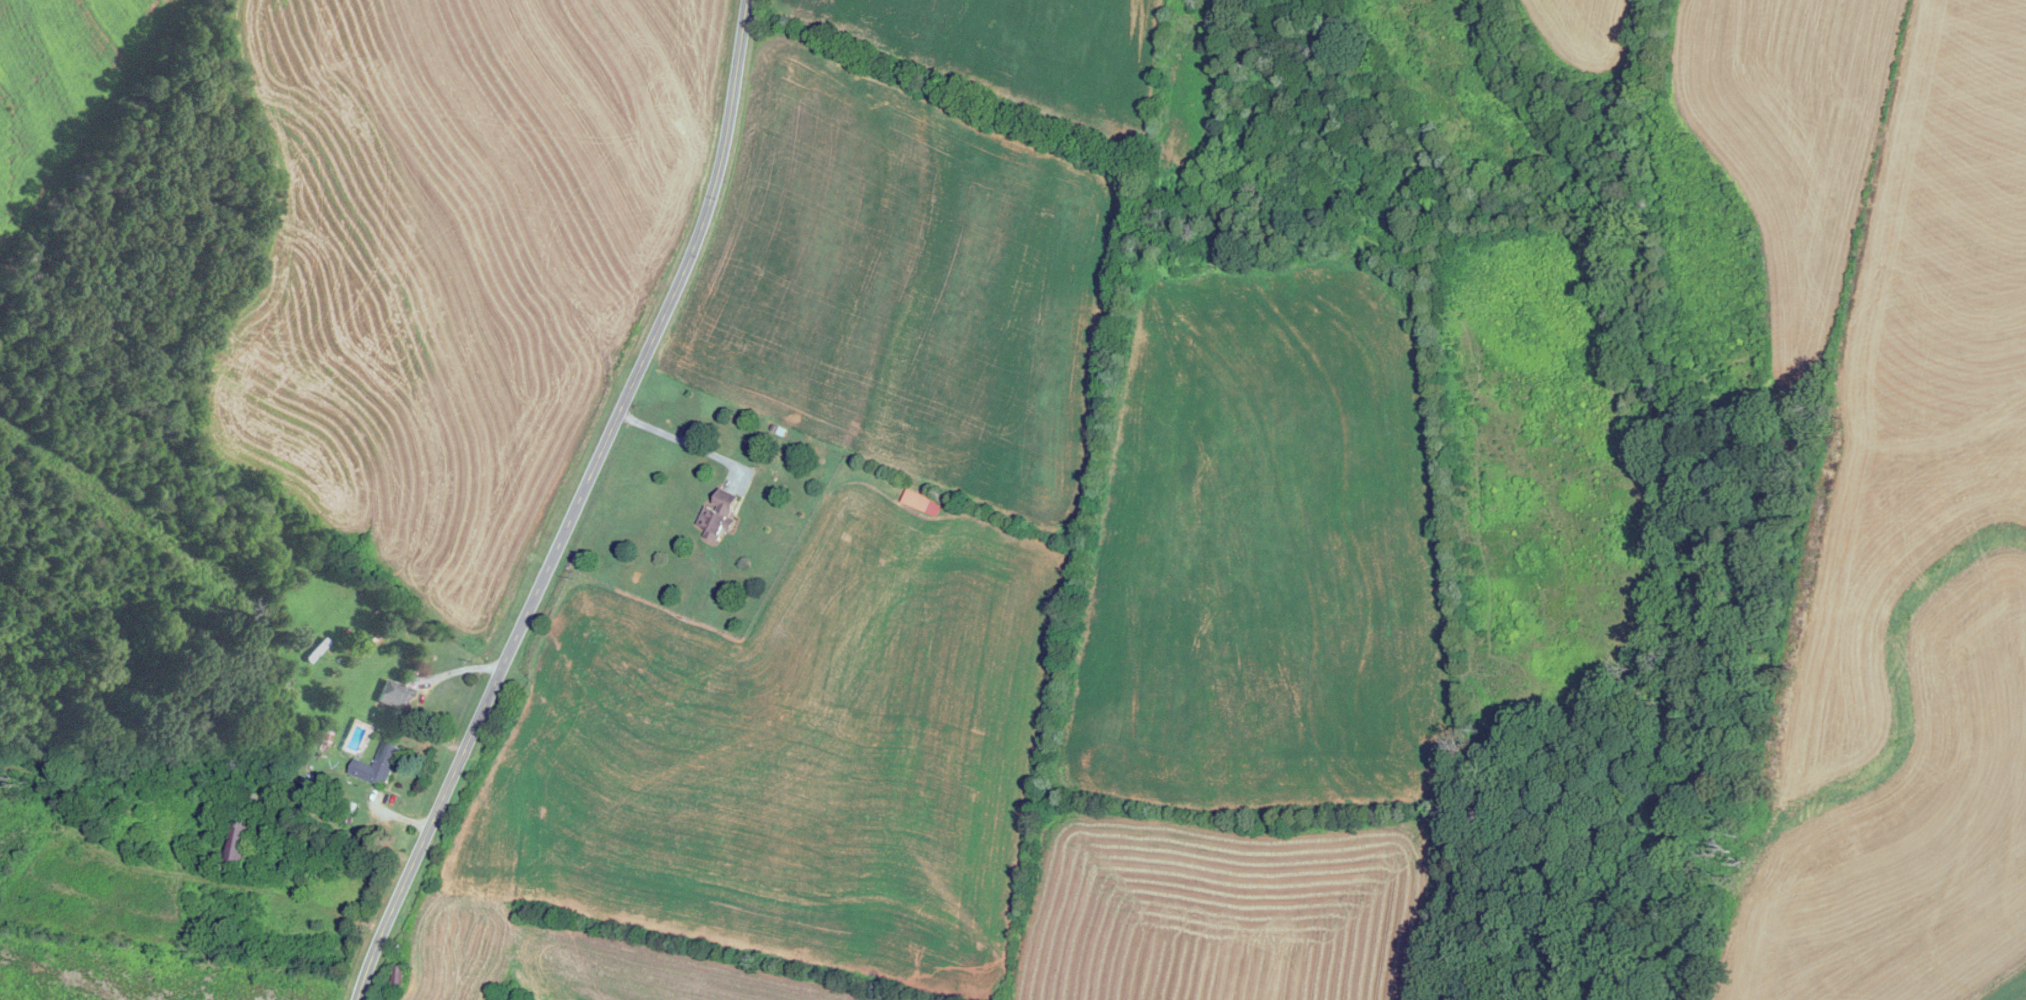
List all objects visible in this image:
road: (679, 441)
road: (577, 505)
building: (721, 516)
building: (318, 650)
building: (395, 694)
building: (380, 766)
building: (242, 838)
building: (401, 978)

